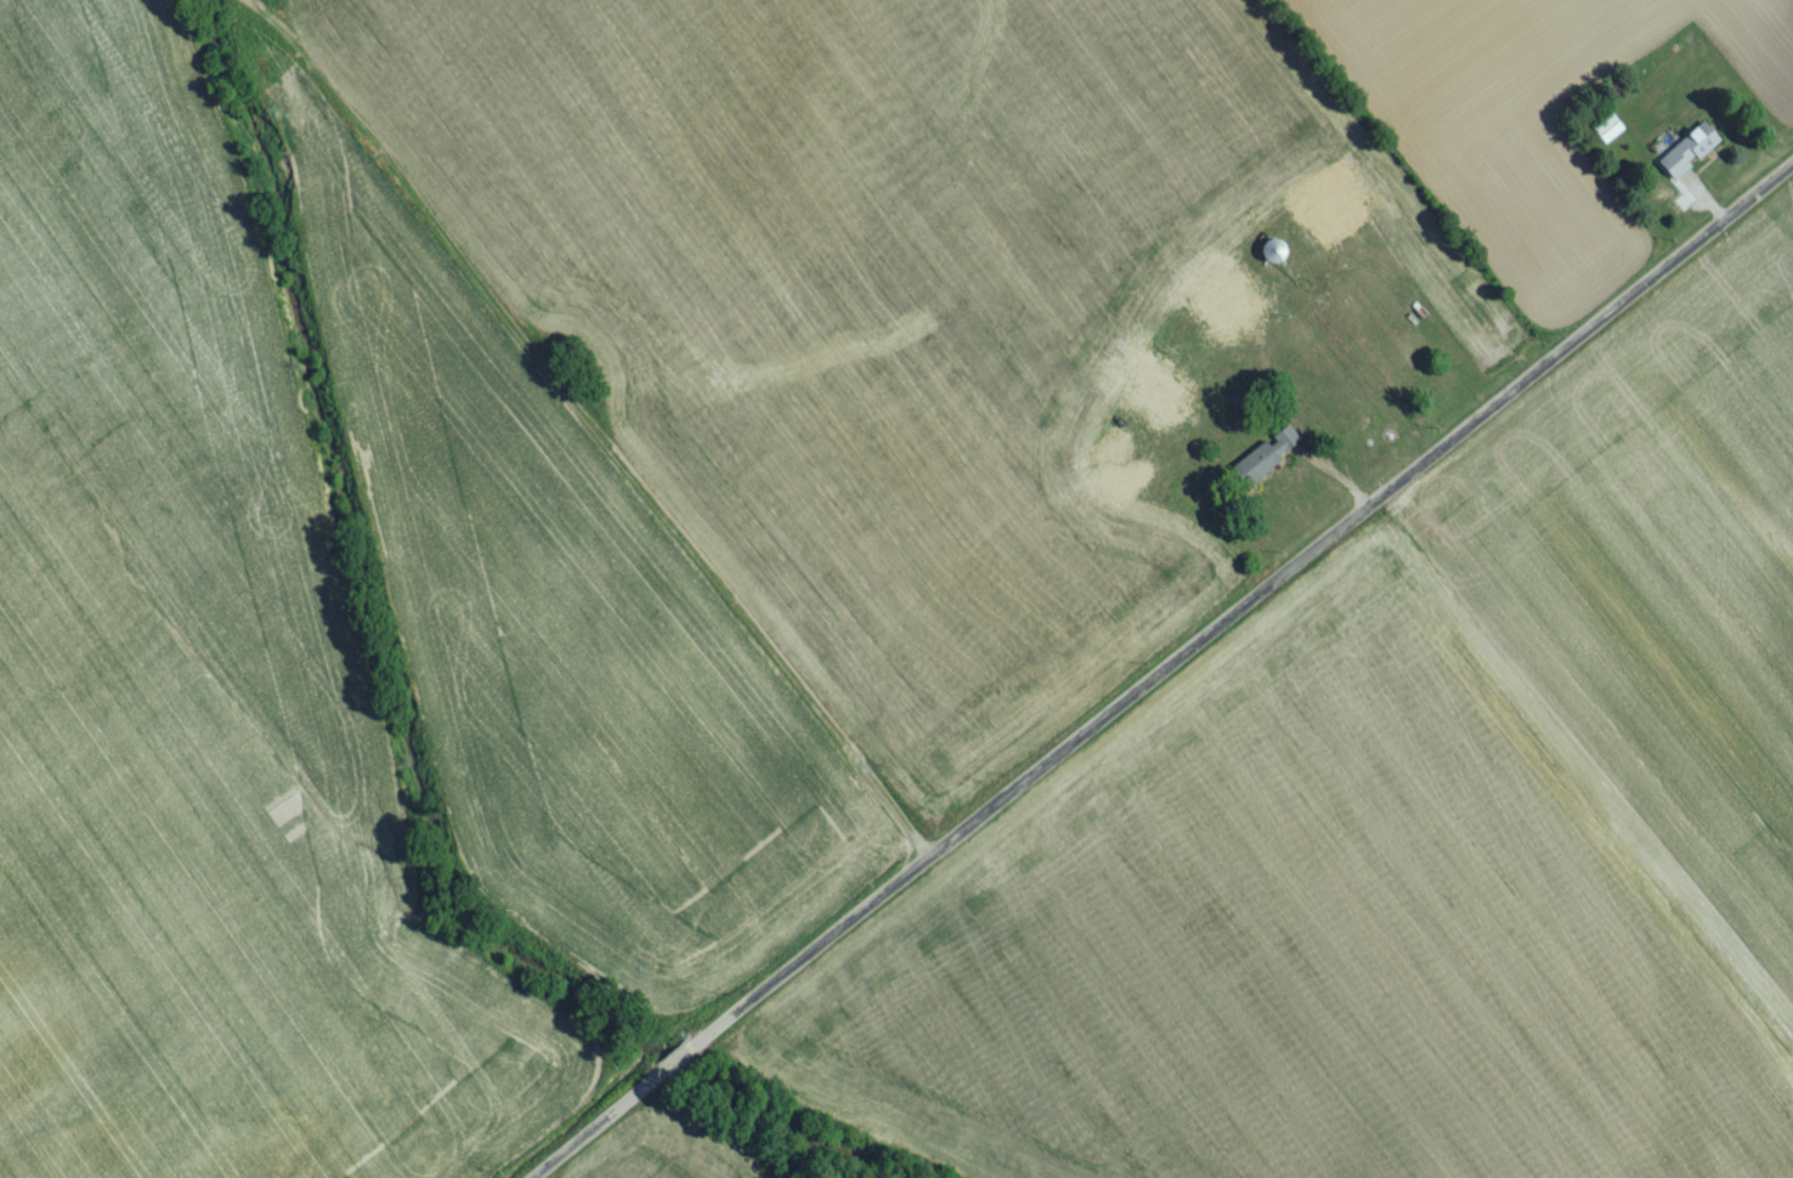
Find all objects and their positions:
building: (1691, 158)
building: (1335, 222)
building: (1233, 312)
building: (1167, 403)
road: (583, 431)
building: (1267, 465)
road: (1358, 516)
road: (805, 961)
road: (672, 1070)
road: (599, 1129)

